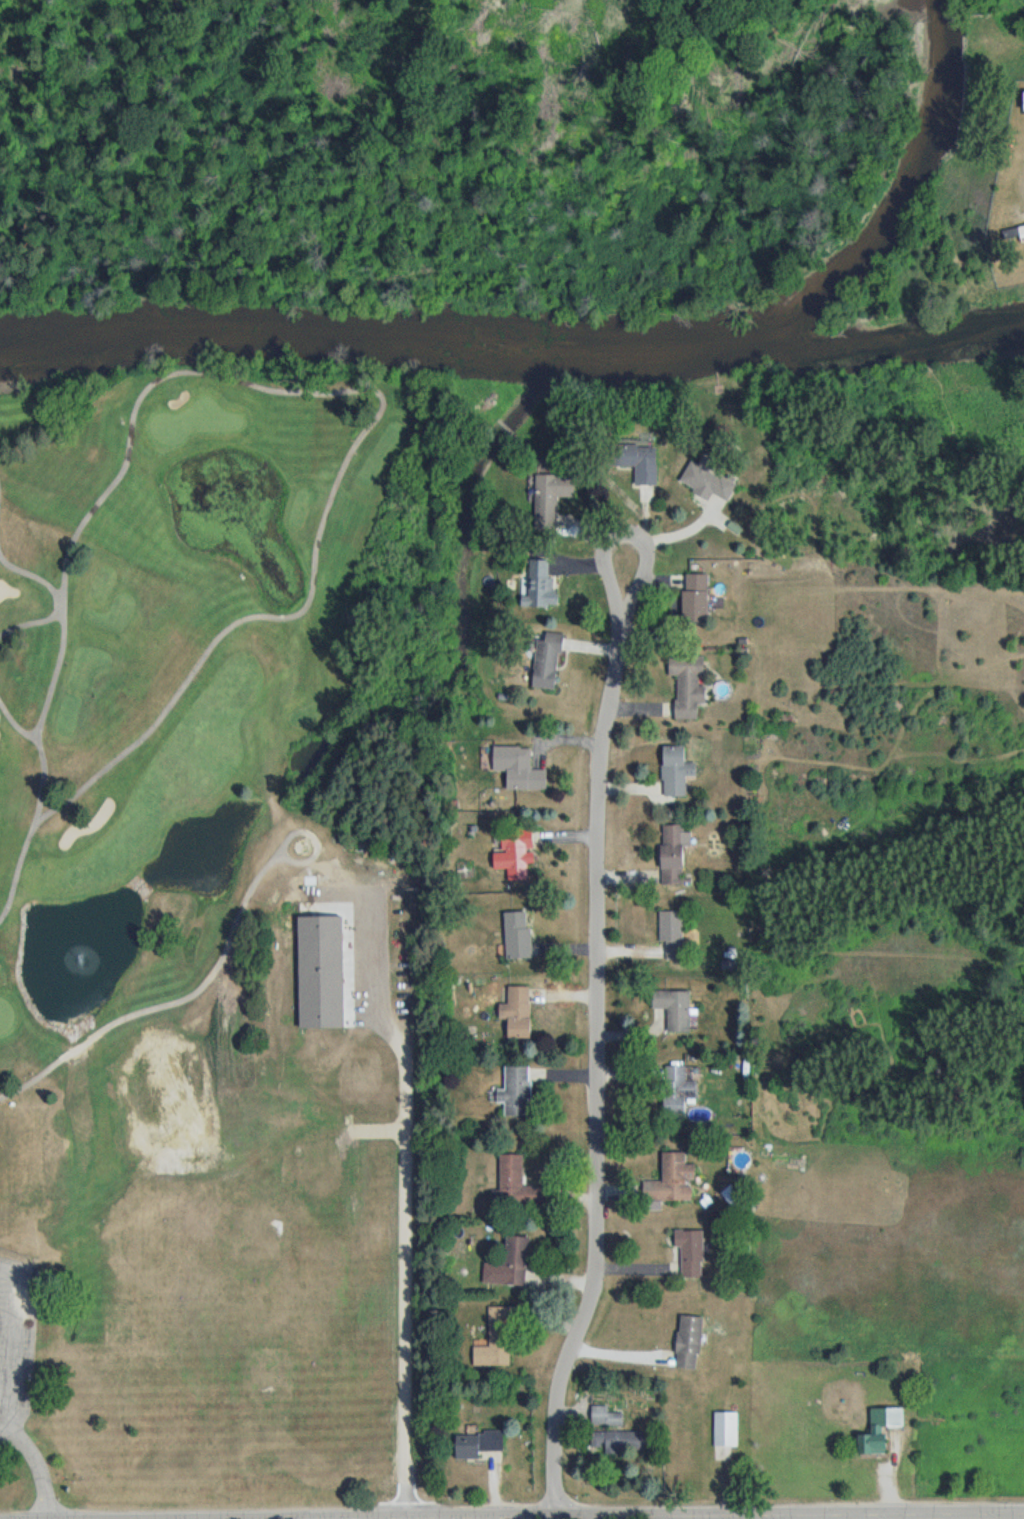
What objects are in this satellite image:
river: (511, 332)
building: (642, 464)
building: (709, 483)
building: (553, 499)
building: (547, 586)
building: (698, 599)
building: (549, 662)
building: (691, 685)
building: (521, 769)
building: (678, 771)
building: (676, 853)
building: (519, 855)
park: (213, 928)
building: (676, 934)
building: (520, 935)
building: (676, 1009)
building: (520, 1012)
road: (604, 1022)
building: (679, 1091)
building: (518, 1092)
building: (674, 1181)
building: (519, 1183)
building: (692, 1253)
building: (513, 1264)
building: (498, 1340)
building: (691, 1342)
building: (607, 1417)
building: (727, 1429)
building: (882, 1430)
building: (620, 1441)
building: (483, 1445)
road: (639, 1513)
road: (525, 1516)
road: (325, 1518)

